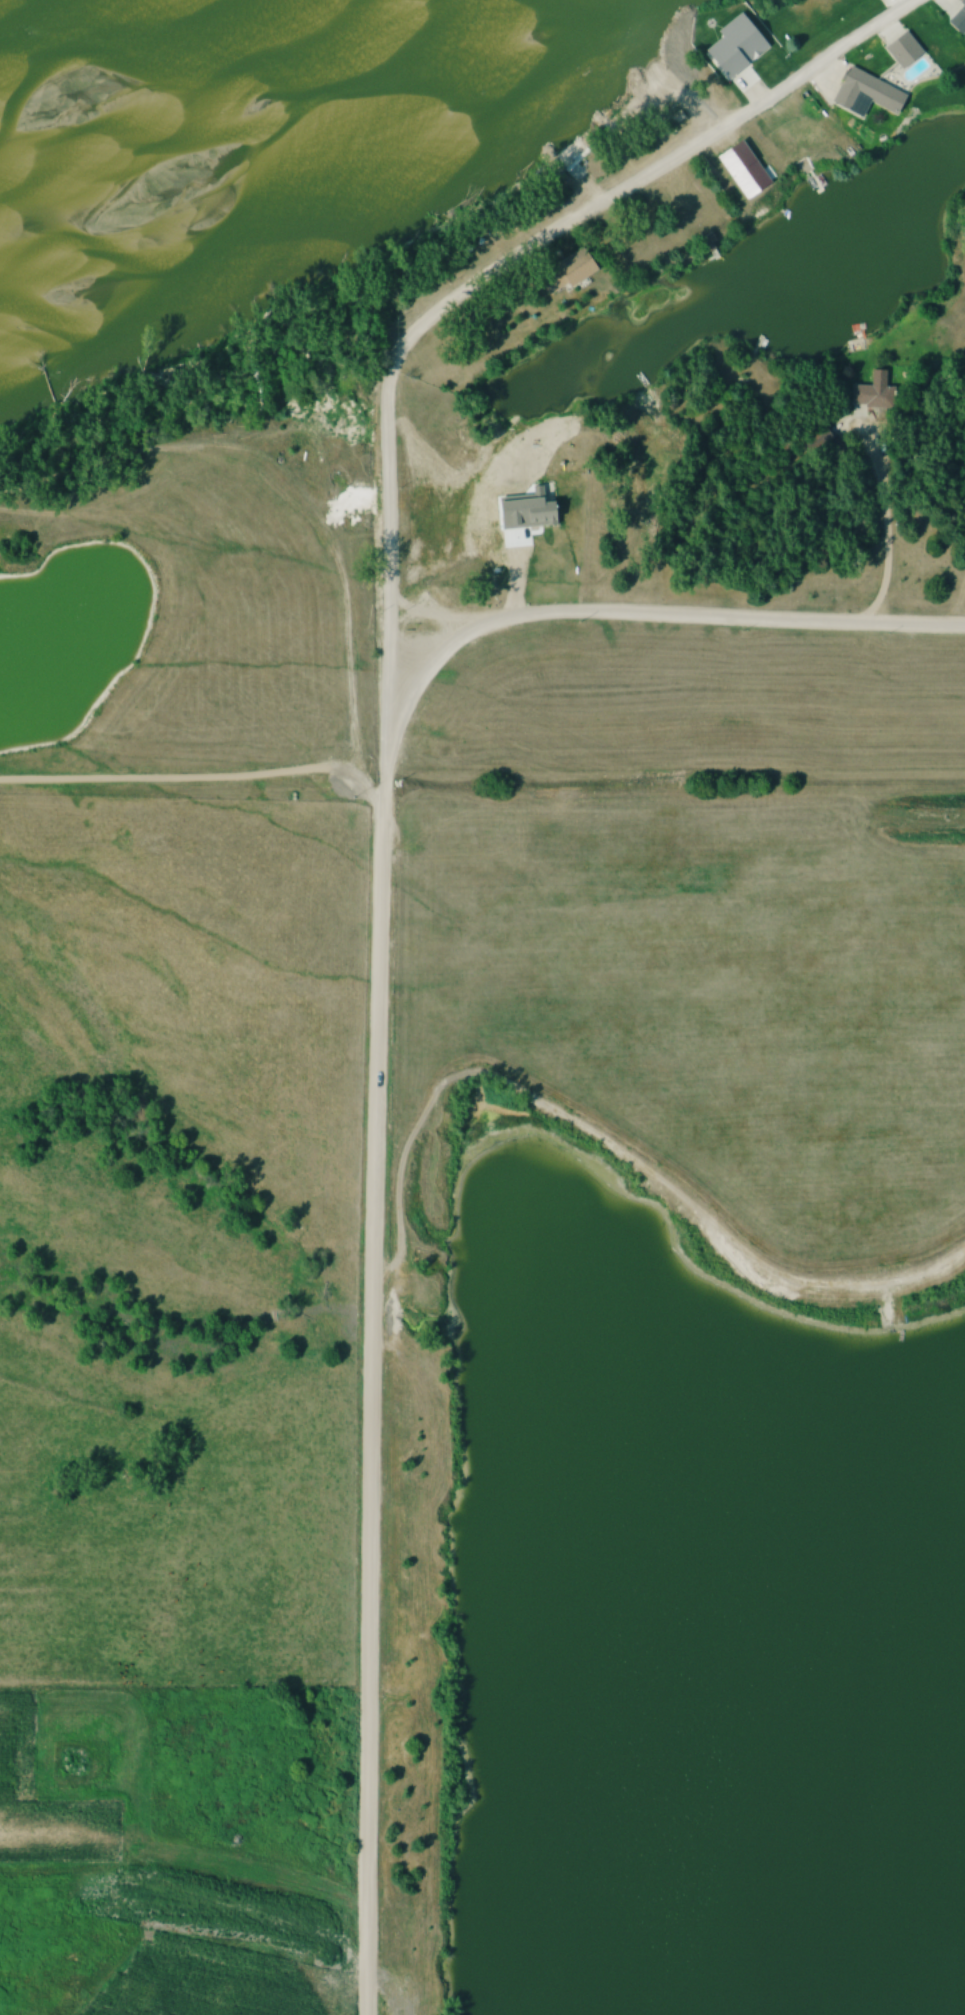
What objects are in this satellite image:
building: (962, 3)
building: (956, 21)
building: (900, 49)
building: (864, 94)
river: (270, 111)
building: (562, 153)
building: (563, 273)
building: (871, 394)
road: (287, 485)
building: (527, 510)
road: (886, 523)
road: (429, 608)
road: (649, 612)
road: (203, 784)
road: (379, 870)

